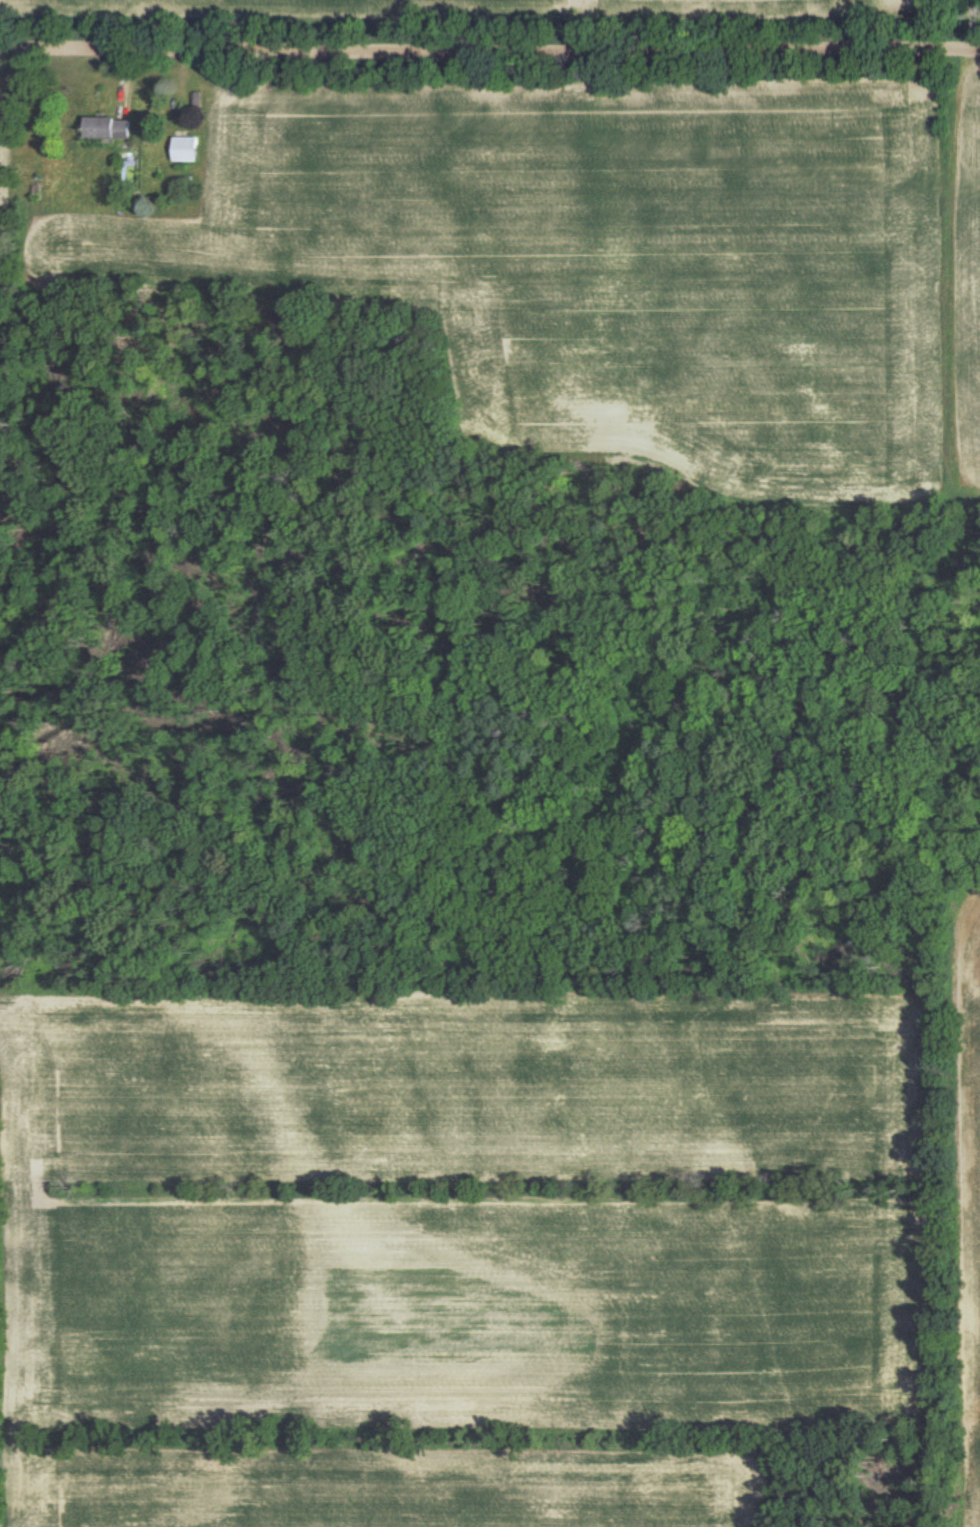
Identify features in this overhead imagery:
road: (490, 48)
building: (104, 128)
building: (182, 148)

